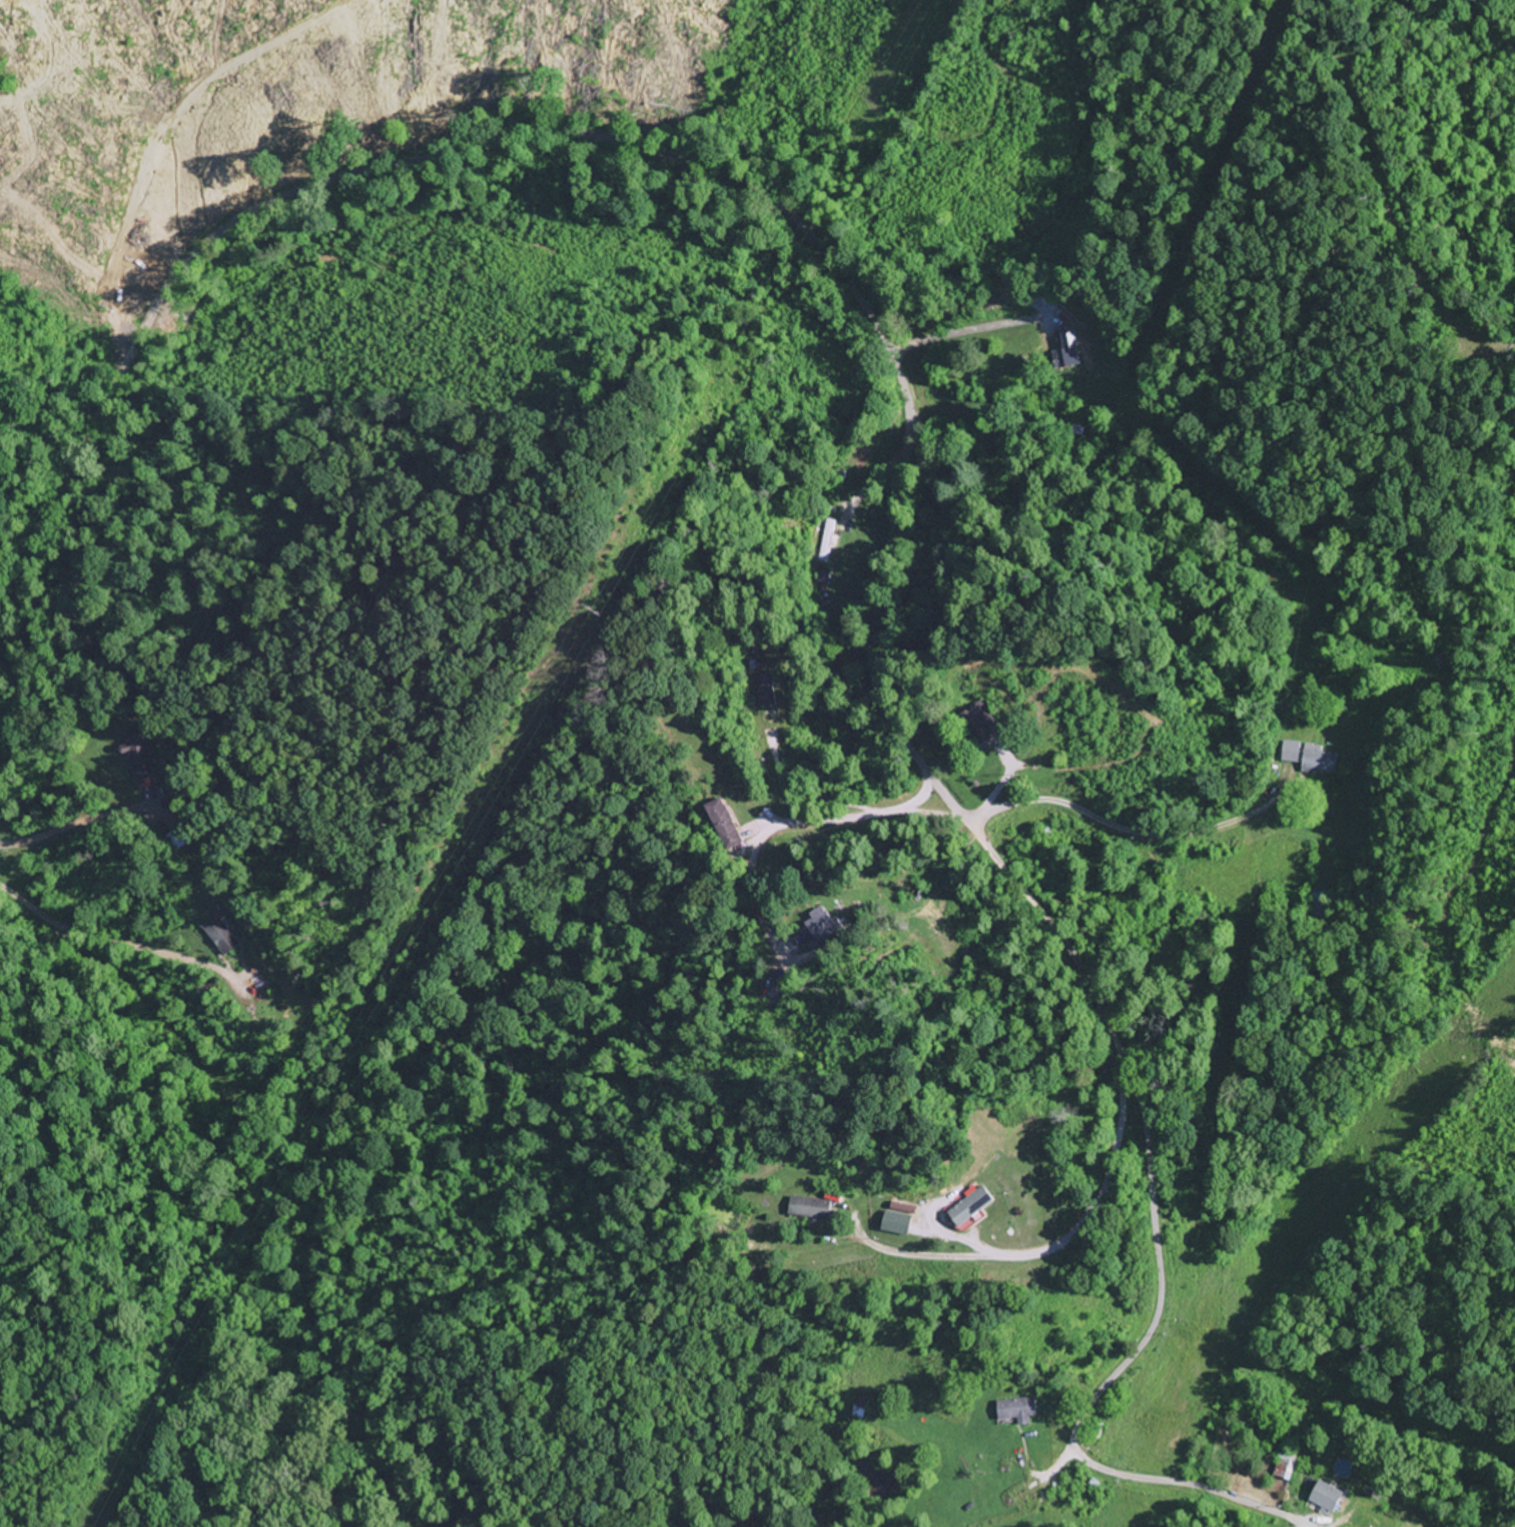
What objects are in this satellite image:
road: (975, 334)
road: (888, 352)
building: (1067, 357)
road: (1030, 443)
building: (827, 540)
power tower: (600, 610)
building: (769, 690)
building: (139, 757)
building: (1319, 760)
building: (725, 823)
building: (178, 840)
road: (1164, 841)
building: (1317, 903)
building: (825, 925)
building: (222, 934)
building: (976, 1205)
building: (811, 1207)
building: (897, 1219)
building: (1021, 1409)

